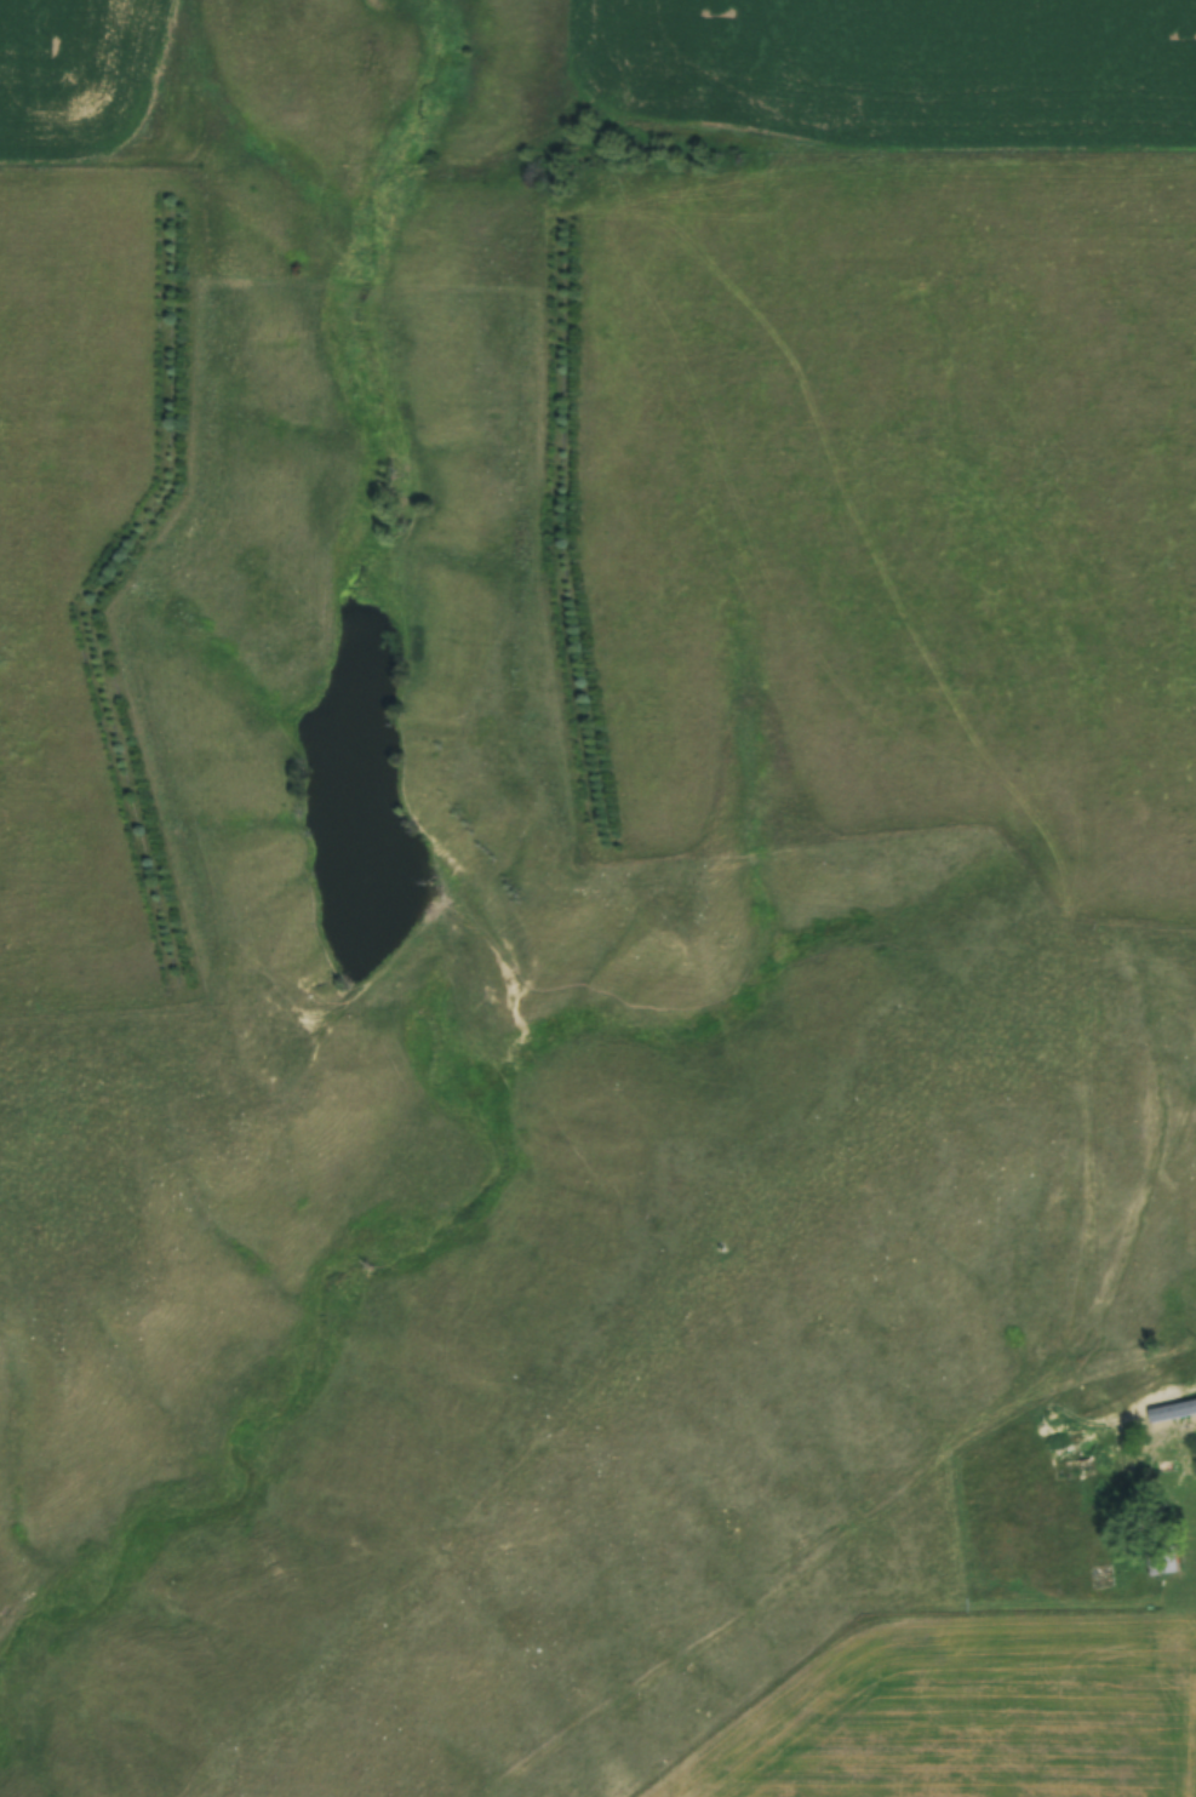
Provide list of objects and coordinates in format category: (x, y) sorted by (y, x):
building: (1166, 1558)

